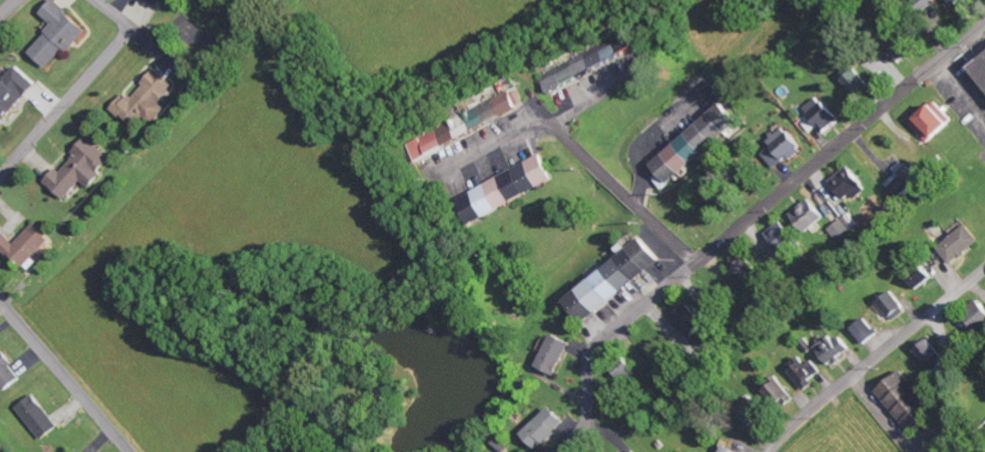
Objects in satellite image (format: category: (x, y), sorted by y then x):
building: (155, 1)
building: (968, 3)
road: (9, 9)
building: (59, 34)
building: (903, 48)
building: (590, 64)
building: (980, 68)
building: (858, 81)
road: (79, 89)
building: (14, 93)
building: (145, 100)
building: (497, 108)
building: (822, 114)
road: (534, 120)
building: (933, 124)
building: (434, 141)
building: (698, 143)
building: (782, 147)
building: (81, 170)
building: (905, 181)
building: (850, 184)
building: (511, 189)
road: (620, 189)
building: (716, 192)
building: (808, 215)
road: (746, 221)
building: (843, 227)
building: (783, 238)
building: (961, 244)
building: (25, 246)
building: (747, 270)
building: (920, 274)
building: (616, 280)
building: (894, 306)
building: (978, 316)
building: (690, 322)
building: (868, 331)
building: (835, 348)
building: (930, 353)
building: (557, 355)
road: (877, 360)
building: (8, 372)
building: (806, 372)
road: (66, 375)
building: (780, 394)
building: (909, 403)
building: (756, 413)
building: (39, 416)
building: (547, 427)
building: (731, 449)
building: (636, 450)

